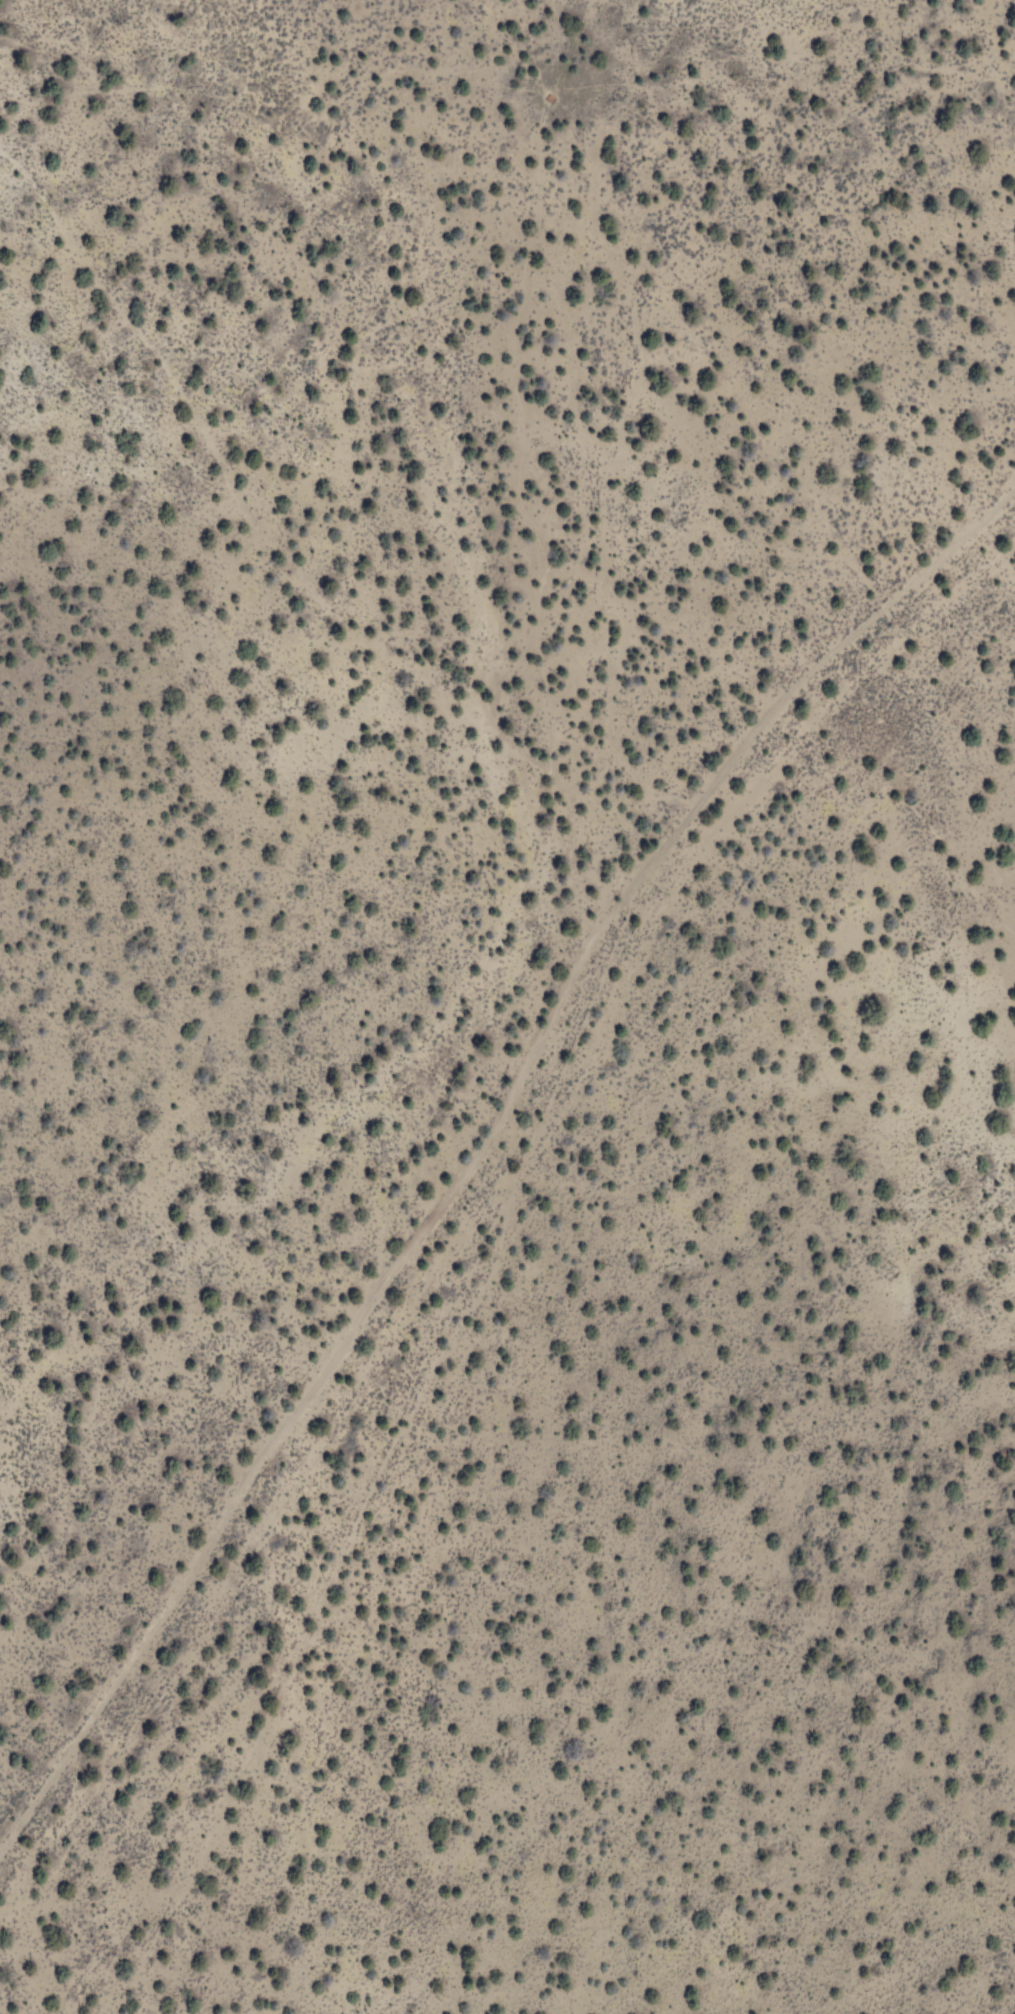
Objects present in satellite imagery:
road: (459, 1211)

